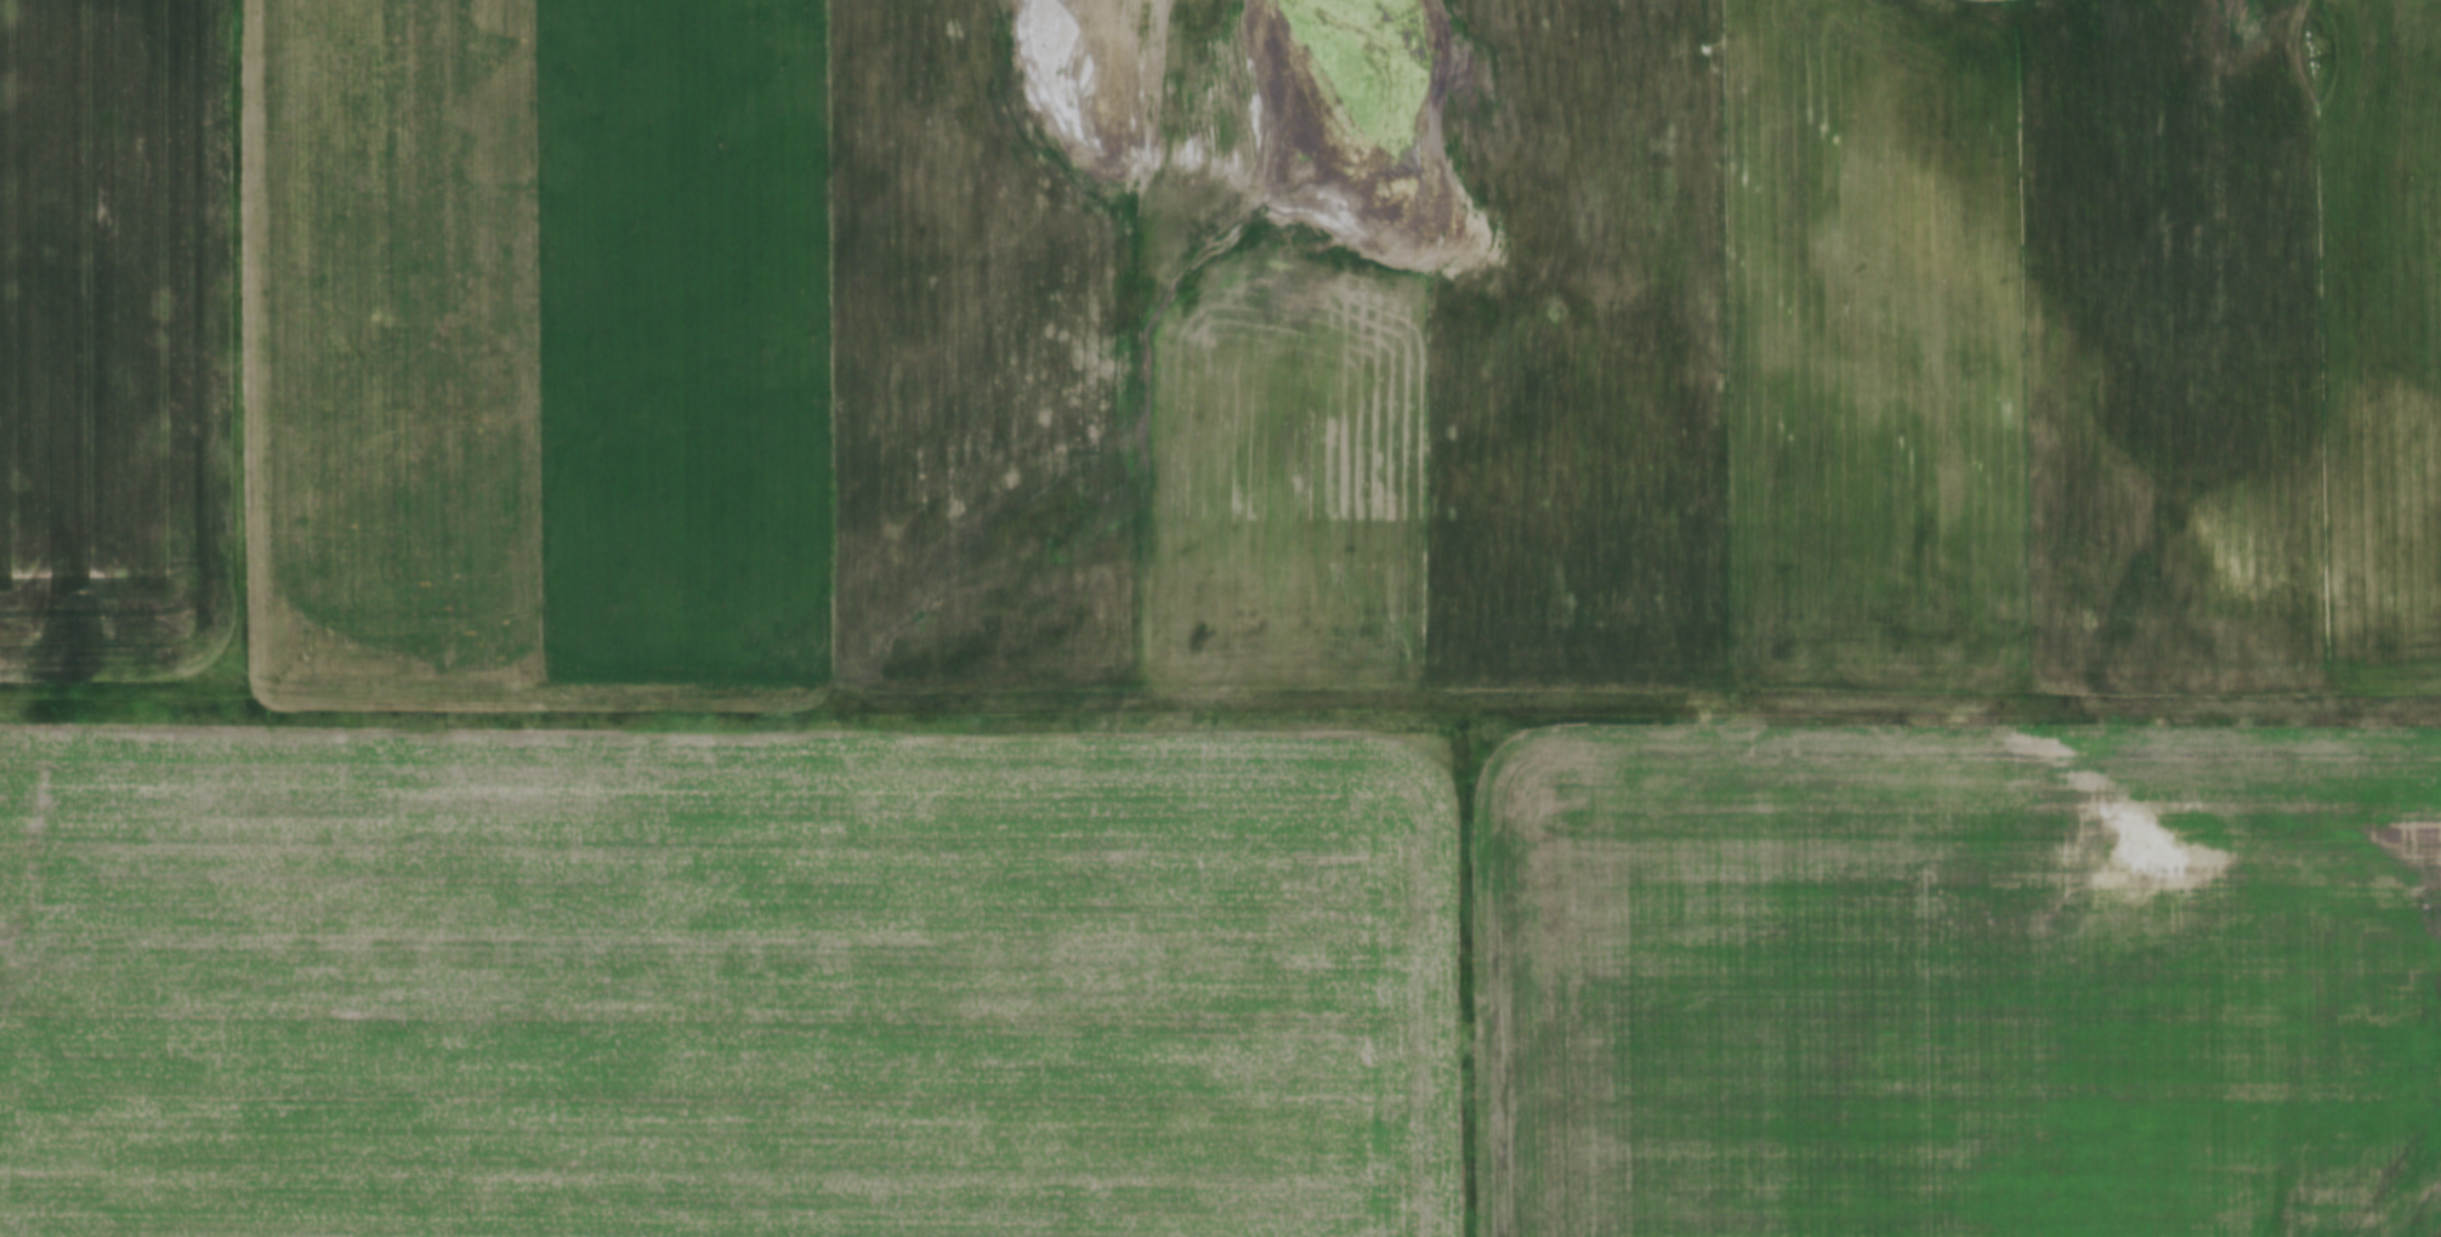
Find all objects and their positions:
road: (1220, 688)
crop: (721, 986)

